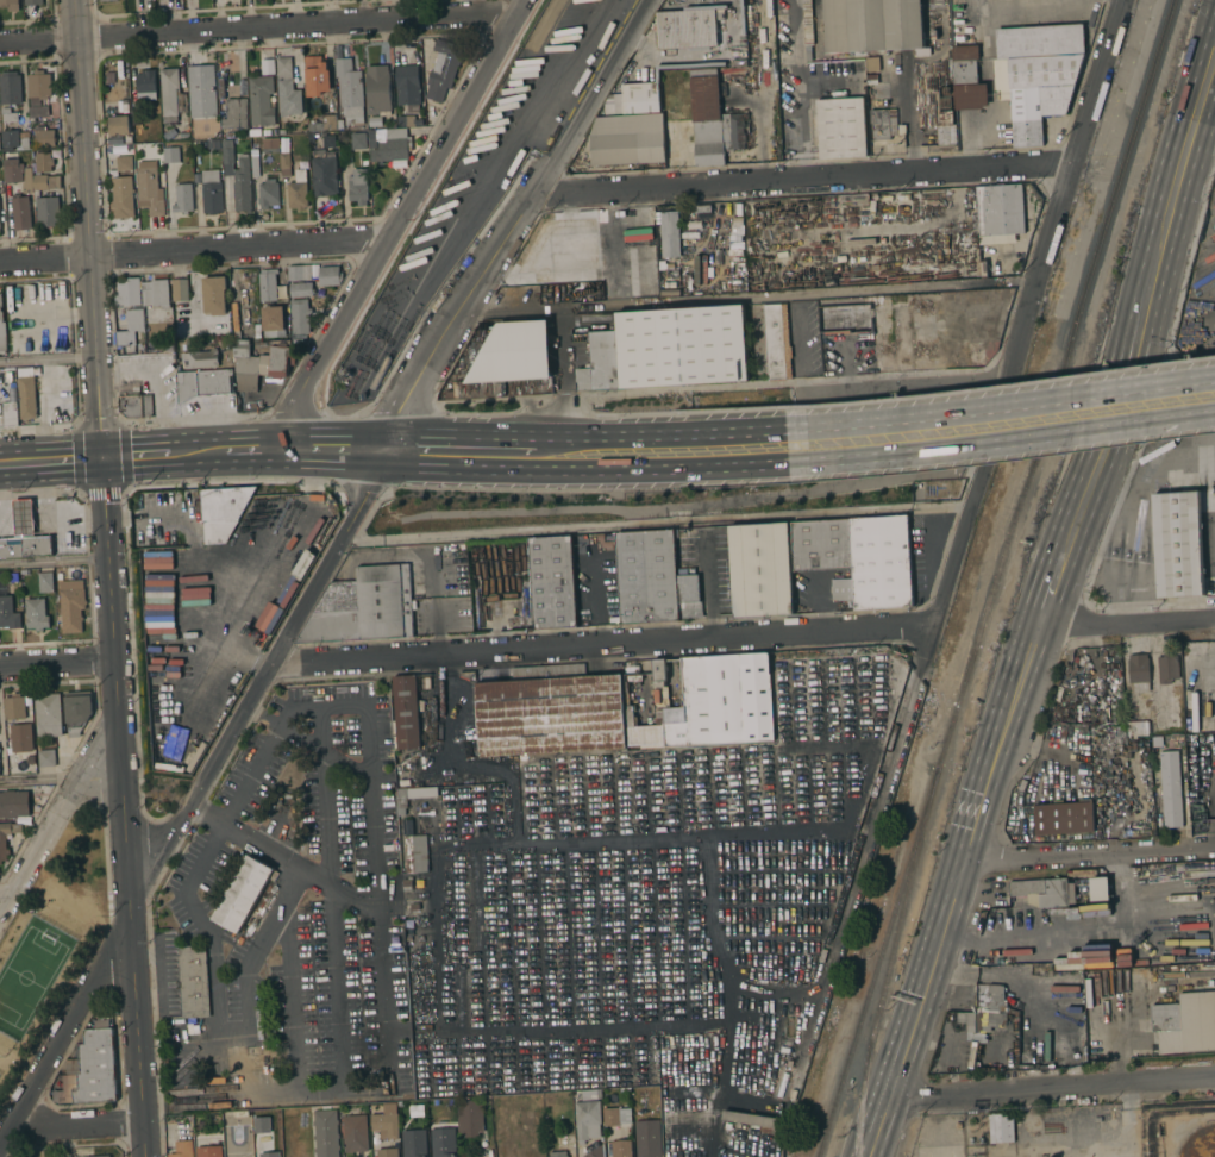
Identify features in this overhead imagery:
building: (105, 0)
building: (33, 2)
building: (10, 5)
railway: (549, 23)
building: (808, 23)
building: (873, 25)
road: (257, 27)
building: (688, 27)
building: (872, 63)
building: (111, 65)
building: (283, 67)
building: (441, 69)
building: (317, 75)
building: (1036, 75)
building: (871, 79)
building: (967, 79)
building: (146, 85)
building: (10, 87)
building: (407, 87)
building: (377, 88)
road: (800, 89)
building: (202, 90)
building: (349, 90)
building: (38, 93)
building: (171, 96)
building: (288, 98)
building: (640, 99)
building: (261, 100)
road: (1198, 100)
building: (236, 114)
building: (10, 115)
building: (707, 118)
building: (407, 120)
building: (119, 121)
building: (324, 123)
building: (885, 124)
building: (627, 126)
building: (840, 127)
building: (946, 129)
building: (734, 130)
building: (256, 132)
building: (230, 135)
building: (45, 137)
building: (371, 138)
building: (10, 139)
building: (24, 140)
building: (358, 140)
building: (270, 143)
building: (213, 144)
building: (392, 146)
building: (627, 149)
building: (171, 155)
building: (284, 160)
building: (43, 162)
building: (125, 163)
building: (256, 167)
building: (12, 170)
building: (325, 173)
building: (236, 179)
road: (802, 179)
building: (26, 181)
building: (45, 181)
building: (357, 186)
building: (149, 188)
building: (298, 190)
building: (211, 192)
building: (268, 194)
building: (123, 196)
building: (183, 198)
building: (702, 209)
building: (48, 211)
building: (1001, 211)
building: (20, 212)
road: (400, 220)
road: (513, 223)
road: (715, 223)
road: (87, 230)
building: (669, 233)
road: (194, 250)
building: (614, 255)
building: (300, 273)
building: (330, 275)
building: (268, 286)
building: (180, 289)
building: (301, 289)
building: (155, 292)
building: (127, 293)
building: (214, 294)
road: (1026, 312)
building: (300, 315)
building: (845, 318)
building: (274, 321)
building: (2, 330)
building: (129, 333)
building: (923, 337)
building: (777, 342)
building: (683, 348)
road: (797, 351)
building: (901, 351)
building: (882, 355)
road: (46, 358)
building: (201, 359)
building: (278, 362)
building: (511, 362)
building: (601, 363)
building: (246, 367)
building: (203, 384)
road: (903, 387)
railway: (1056, 393)
road: (1117, 393)
building: (26, 396)
building: (136, 406)
building: (10, 413)
road: (115, 423)
road: (1001, 425)
road: (443, 452)
traffic signals: (100, 459)
road: (49, 462)
building: (223, 511)
road: (68, 517)
building: (23, 518)
road: (24, 520)
road: (7, 521)
road: (655, 524)
road: (1139, 538)
road: (125, 540)
building: (74, 544)
building: (1177, 544)
building: (25, 548)
building: (860, 556)
road: (107, 559)
road: (54, 561)
building: (760, 570)
building: (12, 576)
building: (647, 577)
road: (707, 580)
building: (45, 581)
building: (552, 582)
building: (841, 589)
building: (689, 596)
road: (434, 605)
building: (363, 607)
building: (71, 612)
building: (8, 613)
building: (36, 614)
road: (1125, 624)
road: (1123, 642)
road: (605, 646)
road: (56, 663)
building: (1167, 668)
road: (269, 670)
building: (1138, 673)
building: (1059, 693)
building: (757, 698)
road: (890, 700)
building: (702, 703)
building: (14, 707)
building: (77, 709)
building: (406, 712)
building: (550, 712)
building: (48, 715)
building: (1139, 728)
building: (644, 736)
building: (21, 738)
building: (46, 757)
road: (248, 774)
road: (38, 778)
building: (1171, 789)
building: (412, 796)
building: (14, 803)
road: (1210, 803)
building: (1064, 818)
road: (50, 823)
building: (407, 826)
road: (794, 828)
road: (697, 836)
building: (2, 842)
building: (417, 853)
road: (142, 855)
road: (1090, 856)
road: (328, 858)
building: (0, 863)
building: (407, 882)
building: (1100, 889)
road: (959, 890)
building: (1045, 892)
building: (243, 894)
road: (4, 898)
building: (414, 907)
road: (127, 908)
park: (49, 940)
building: (412, 948)
railway: (887, 969)
railway: (872, 970)
building: (194, 981)
road: (434, 1000)
building: (984, 1011)
building: (414, 1014)
building: (1185, 1022)
road: (218, 1025)
road: (152, 1027)
road: (62, 1039)
building: (973, 1053)
building: (92, 1069)
building: (782, 1084)
road: (1051, 1092)
building: (590, 1094)
building: (415, 1111)
building: (610, 1115)
building: (469, 1117)
building: (259, 1119)
building: (750, 1119)
building: (587, 1120)
building: (386, 1124)
road: (74, 1127)
building: (1001, 1127)
building: (273, 1131)
building: (355, 1132)
building: (326, 1133)
building: (647, 1138)
building: (443, 1142)
building: (414, 1143)
building: (1200, 1143)
building: (182, 1149)
building: (621, 1149)
building: (209, 1151)
building: (596, 1151)
building: (387, 1152)
building: (489, 1152)
building: (558, 1153)
building: (101, 1156)

